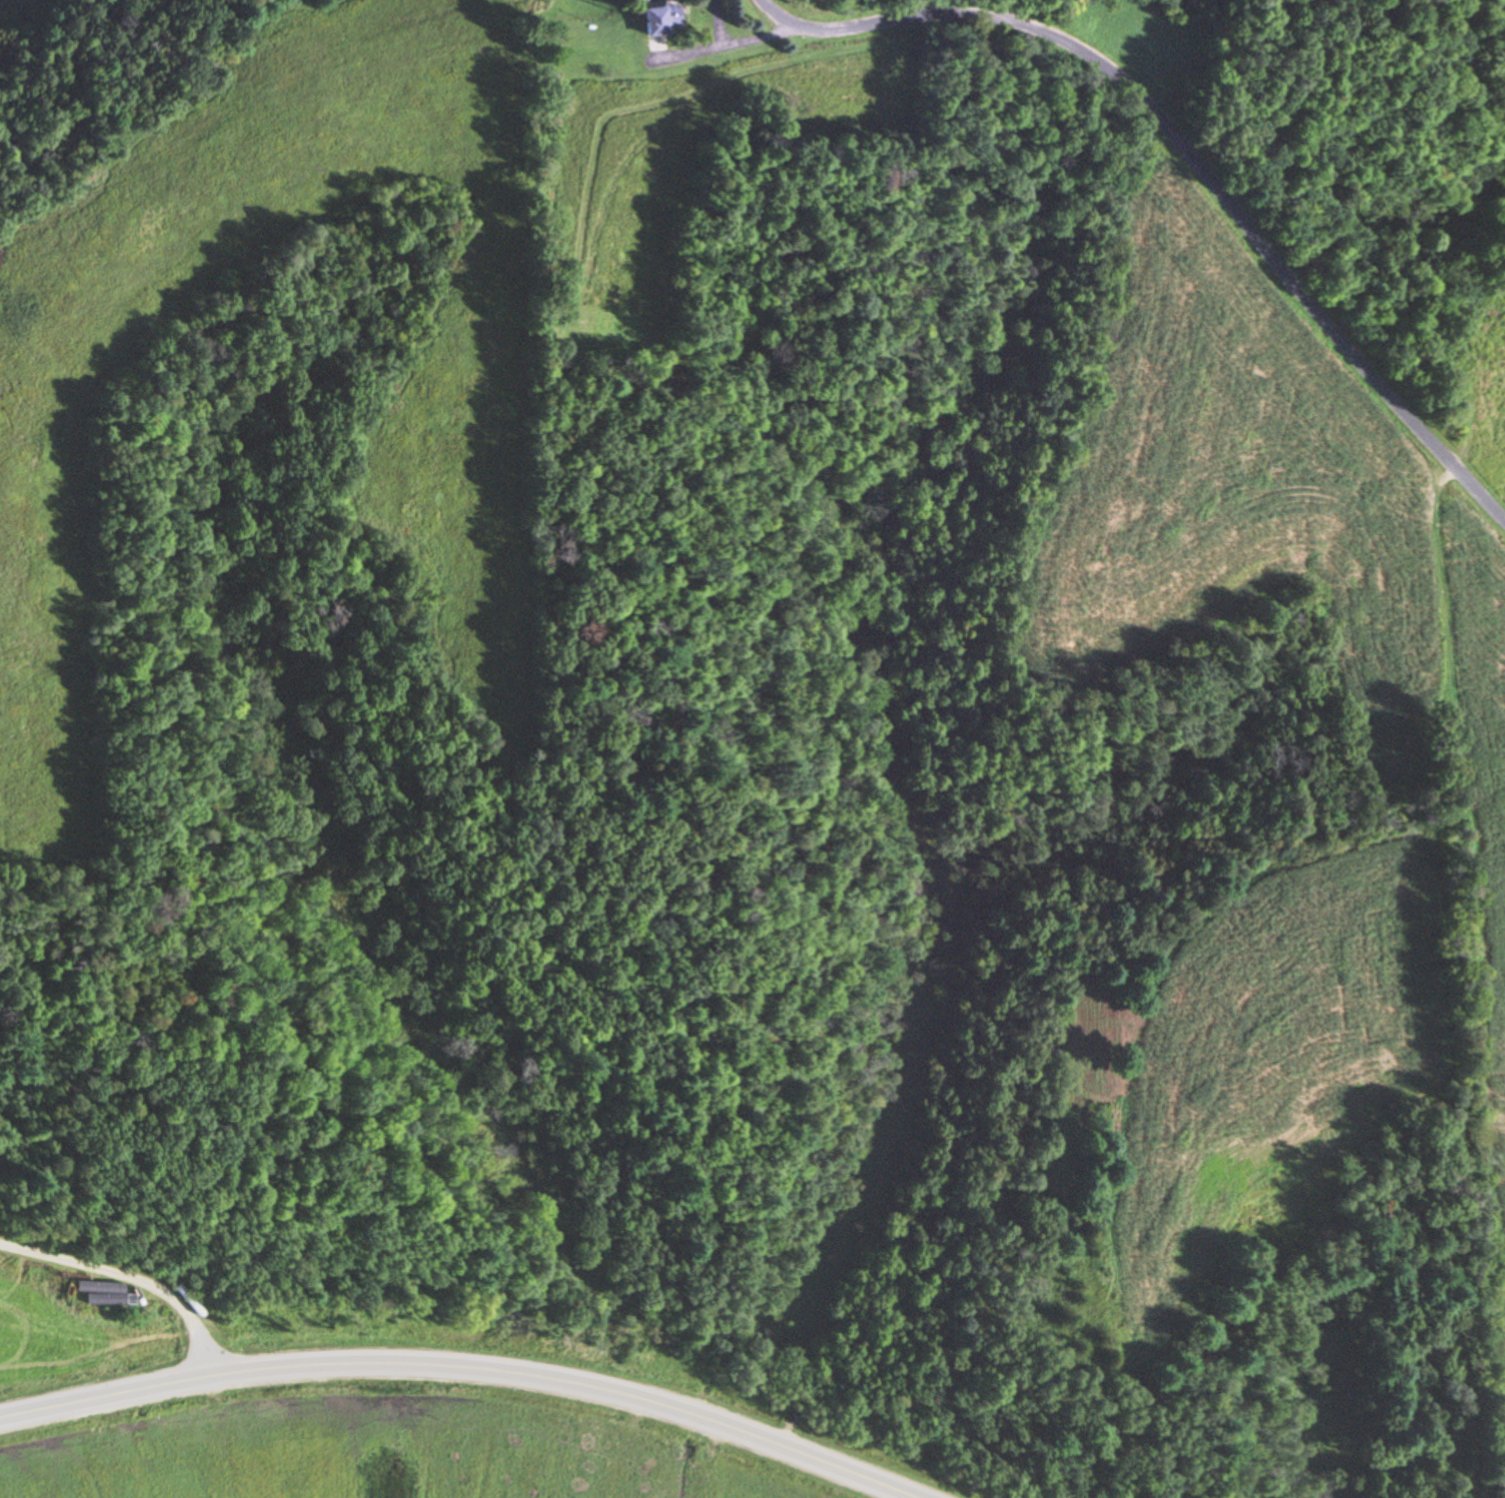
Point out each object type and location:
building: (657, 20)
road: (721, 43)
road: (1186, 157)
road: (140, 1247)
road: (462, 1365)

